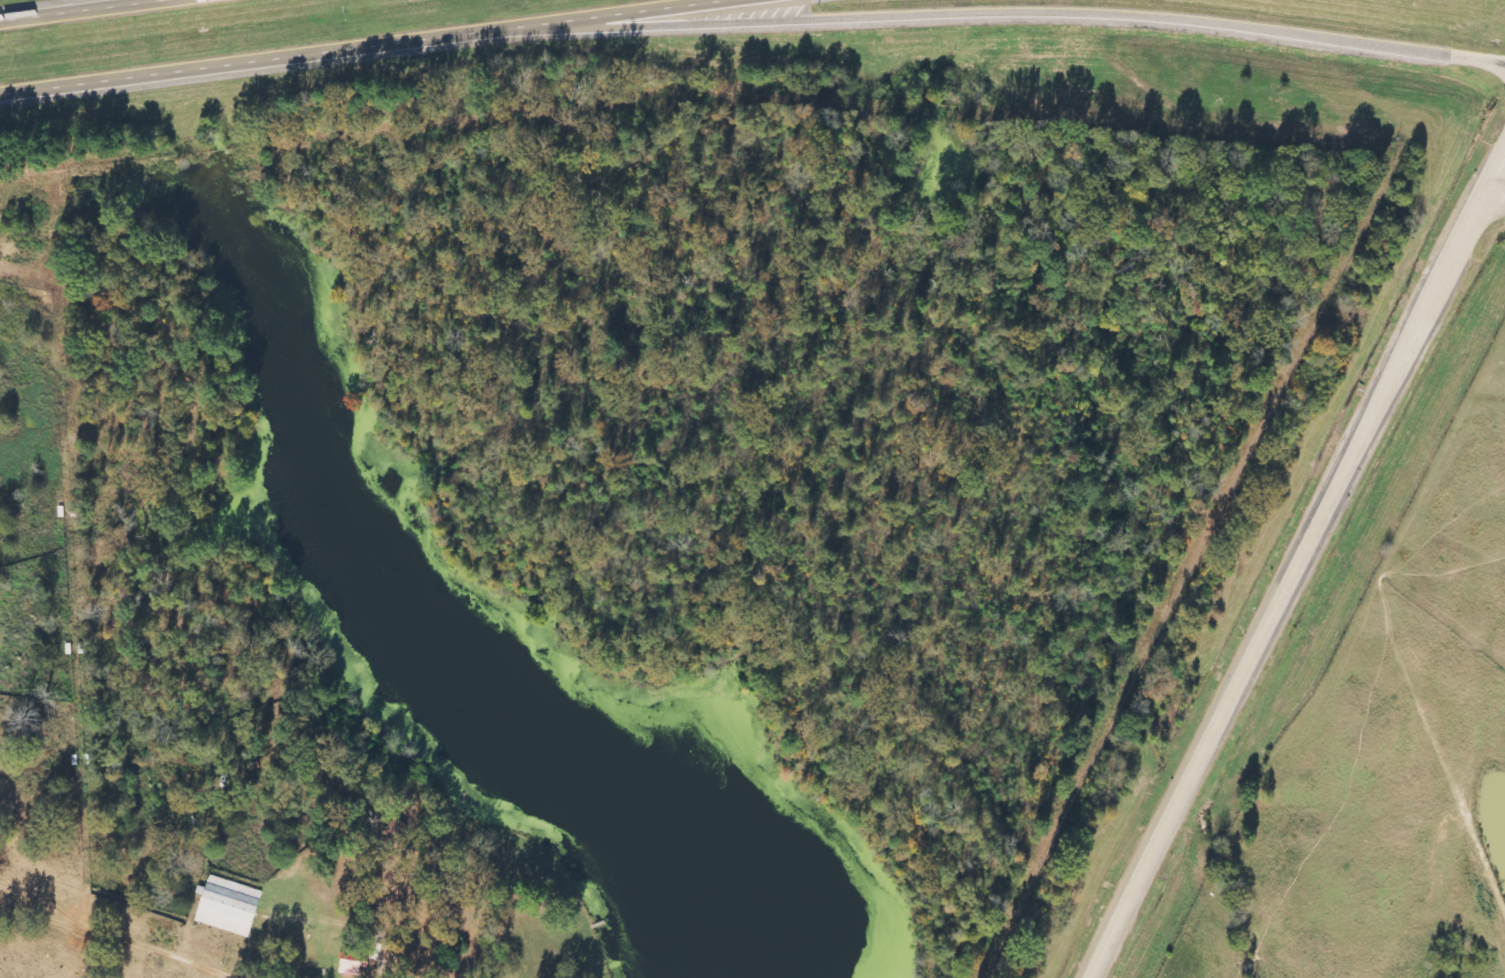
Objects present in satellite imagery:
road: (72, 9)
road: (987, 9)
road: (358, 47)
road: (1492, 202)
road: (1296, 564)
building: (230, 906)
building: (354, 962)

